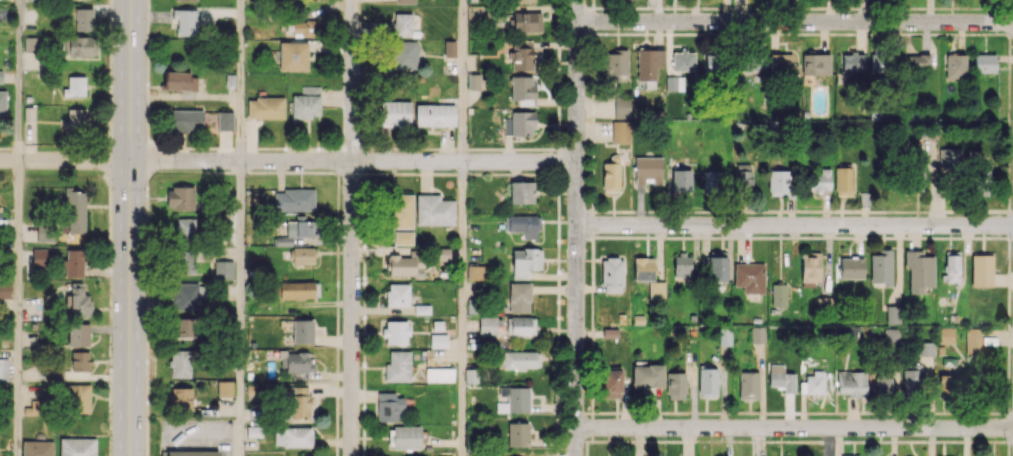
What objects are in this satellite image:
building: (187, 0)
building: (524, 0)
building: (404, 1)
building: (83, 19)
building: (186, 21)
building: (526, 21)
road: (795, 21)
building: (402, 24)
building: (306, 27)
building: (31, 44)
building: (79, 46)
building: (449, 48)
building: (405, 54)
building: (521, 55)
building: (293, 56)
building: (683, 61)
building: (852, 61)
building: (918, 61)
building: (616, 62)
building: (711, 62)
building: (750, 62)
building: (876, 62)
building: (648, 63)
building: (984, 63)
building: (780, 64)
building: (816, 64)
building: (955, 65)
building: (0, 76)
road: (17, 80)
road: (240, 80)
road: (461, 80)
building: (180, 81)
building: (473, 81)
building: (674, 83)
building: (75, 86)
building: (522, 89)
building: (306, 102)
building: (2, 103)
building: (265, 107)
building: (622, 107)
building: (395, 113)
building: (435, 115)
building: (76, 119)
building: (187, 120)
building: (224, 120)
building: (519, 123)
building: (620, 131)
building: (949, 158)
road: (288, 161)
building: (648, 170)
building: (611, 174)
building: (917, 175)
building: (742, 176)
building: (681, 180)
building: (711, 180)
building: (820, 180)
building: (843, 181)
building: (981, 181)
building: (777, 182)
building: (521, 192)
building: (180, 197)
building: (294, 199)
building: (75, 210)
building: (400, 210)
building: (434, 210)
building: (523, 225)
road: (795, 225)
road: (352, 227)
road: (129, 228)
road: (576, 228)
building: (184, 229)
building: (297, 230)
building: (44, 232)
building: (403, 237)
building: (442, 254)
building: (303, 255)
building: (39, 257)
building: (525, 261)
building: (183, 262)
building: (73, 263)
building: (405, 263)
building: (682, 265)
building: (717, 266)
building: (952, 266)
building: (851, 267)
building: (881, 267)
building: (643, 268)
building: (223, 269)
building: (810, 269)
building: (918, 270)
building: (981, 270)
building: (475, 272)
building: (612, 275)
building: (749, 277)
building: (5, 289)
building: (296, 290)
building: (656, 290)
building: (397, 294)
building: (778, 294)
building: (185, 296)
building: (519, 297)
building: (78, 301)
road: (16, 308)
road: (239, 308)
road: (460, 308)
building: (892, 314)
building: (487, 325)
building: (521, 325)
building: (184, 328)
building: (302, 331)
building: (396, 332)
building: (78, 334)
building: (757, 334)
building: (946, 335)
building: (891, 336)
building: (725, 337)
building: (438, 340)
building: (973, 341)
building: (925, 348)
building: (520, 359)
building: (80, 361)
building: (180, 363)
building: (296, 363)
building: (398, 366)
building: (3, 370)
building: (439, 374)
building: (647, 376)
building: (781, 378)
building: (911, 379)
building: (707, 382)
building: (883, 382)
building: (611, 383)
building: (812, 383)
building: (852, 383)
building: (675, 385)
building: (748, 385)
building: (950, 385)
building: (224, 388)
building: (78, 398)
building: (180, 398)
building: (516, 398)
building: (300, 402)
building: (389, 407)
road: (794, 427)
building: (518, 434)
building: (292, 436)
building: (77, 446)
building: (37, 448)
building: (189, 453)
building: (850, 455)

